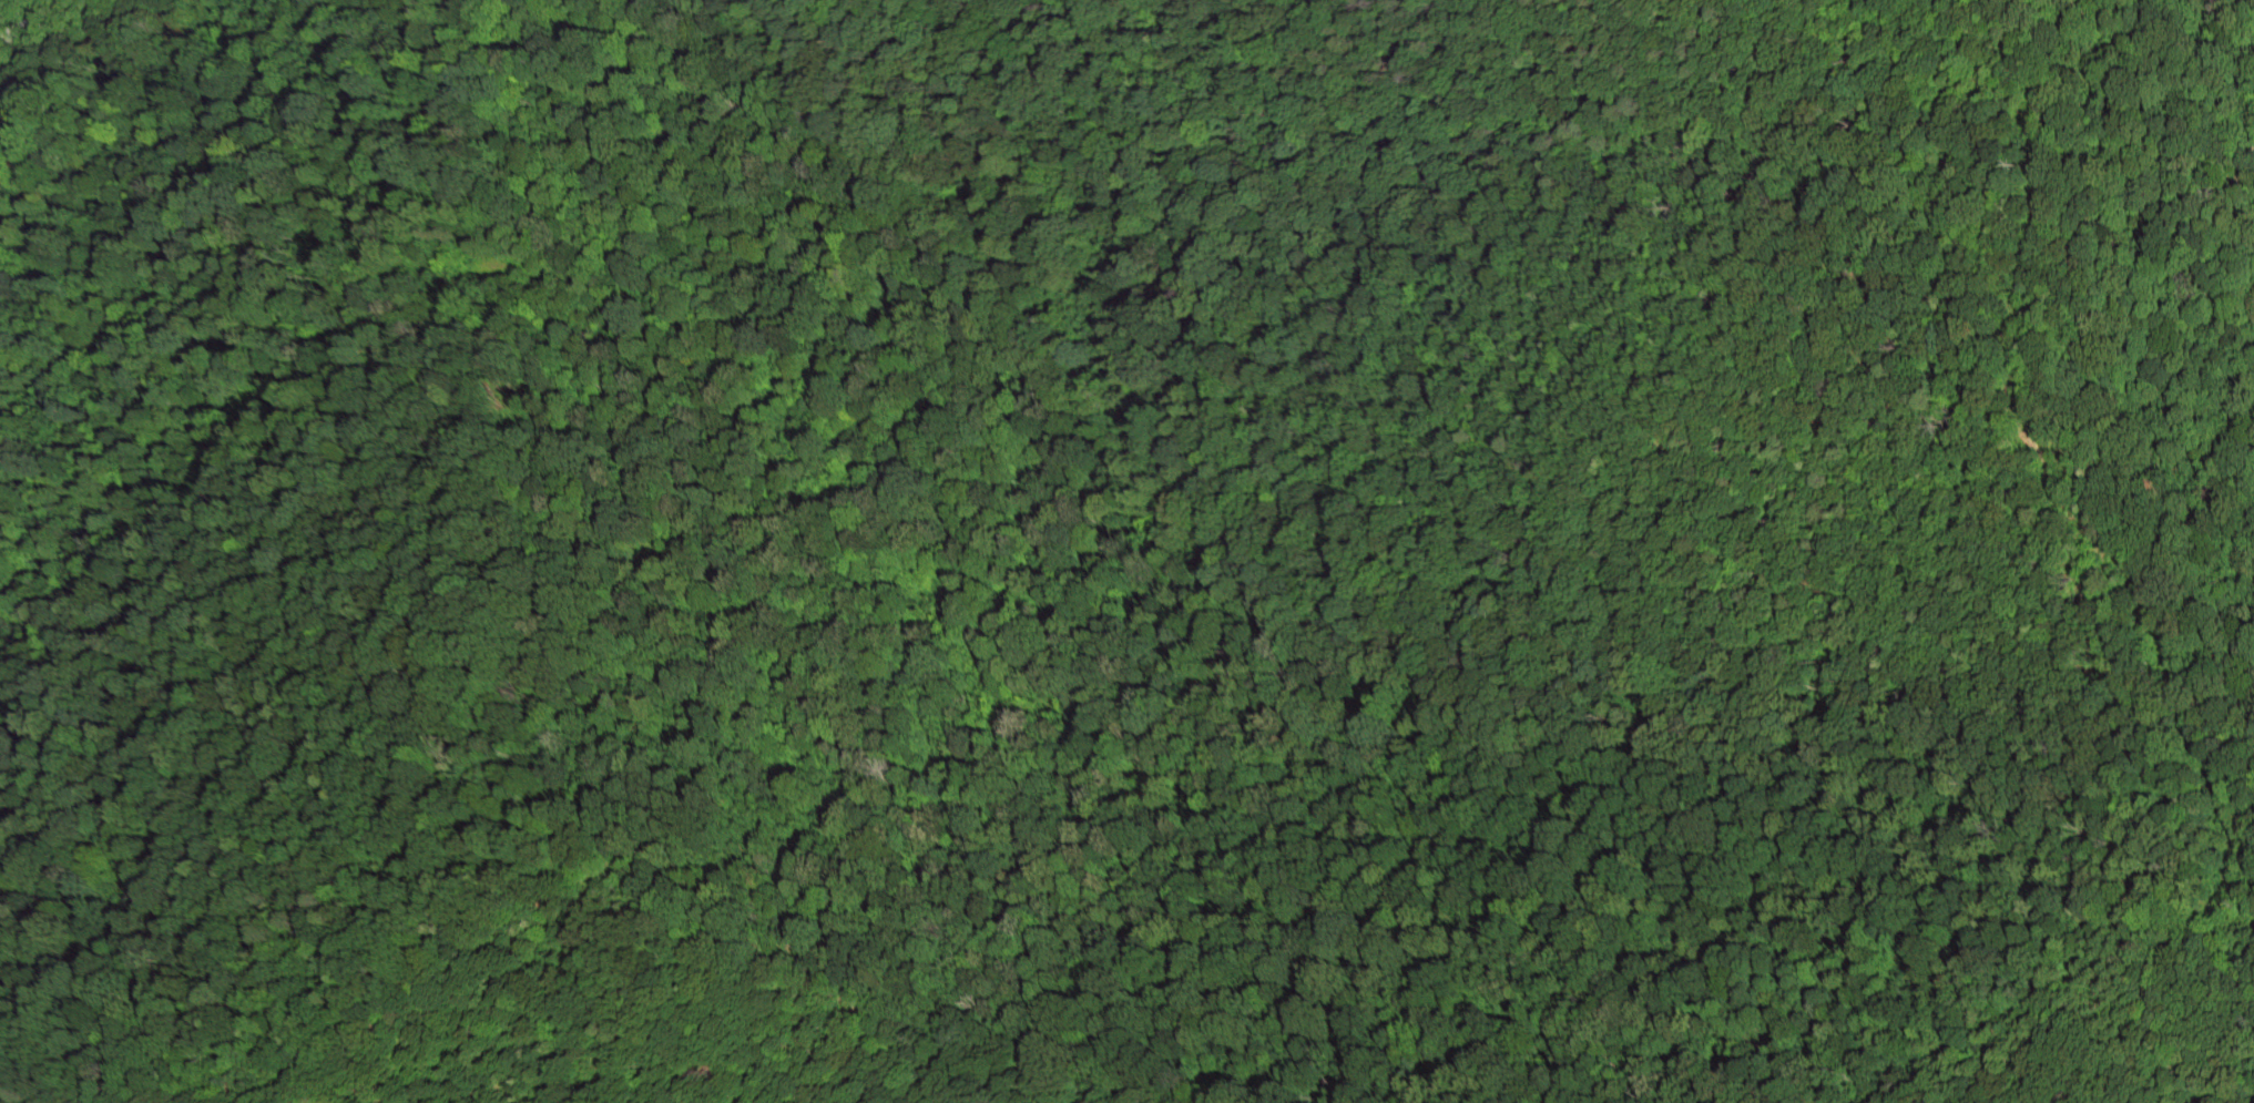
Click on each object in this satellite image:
road: (27, 17)

